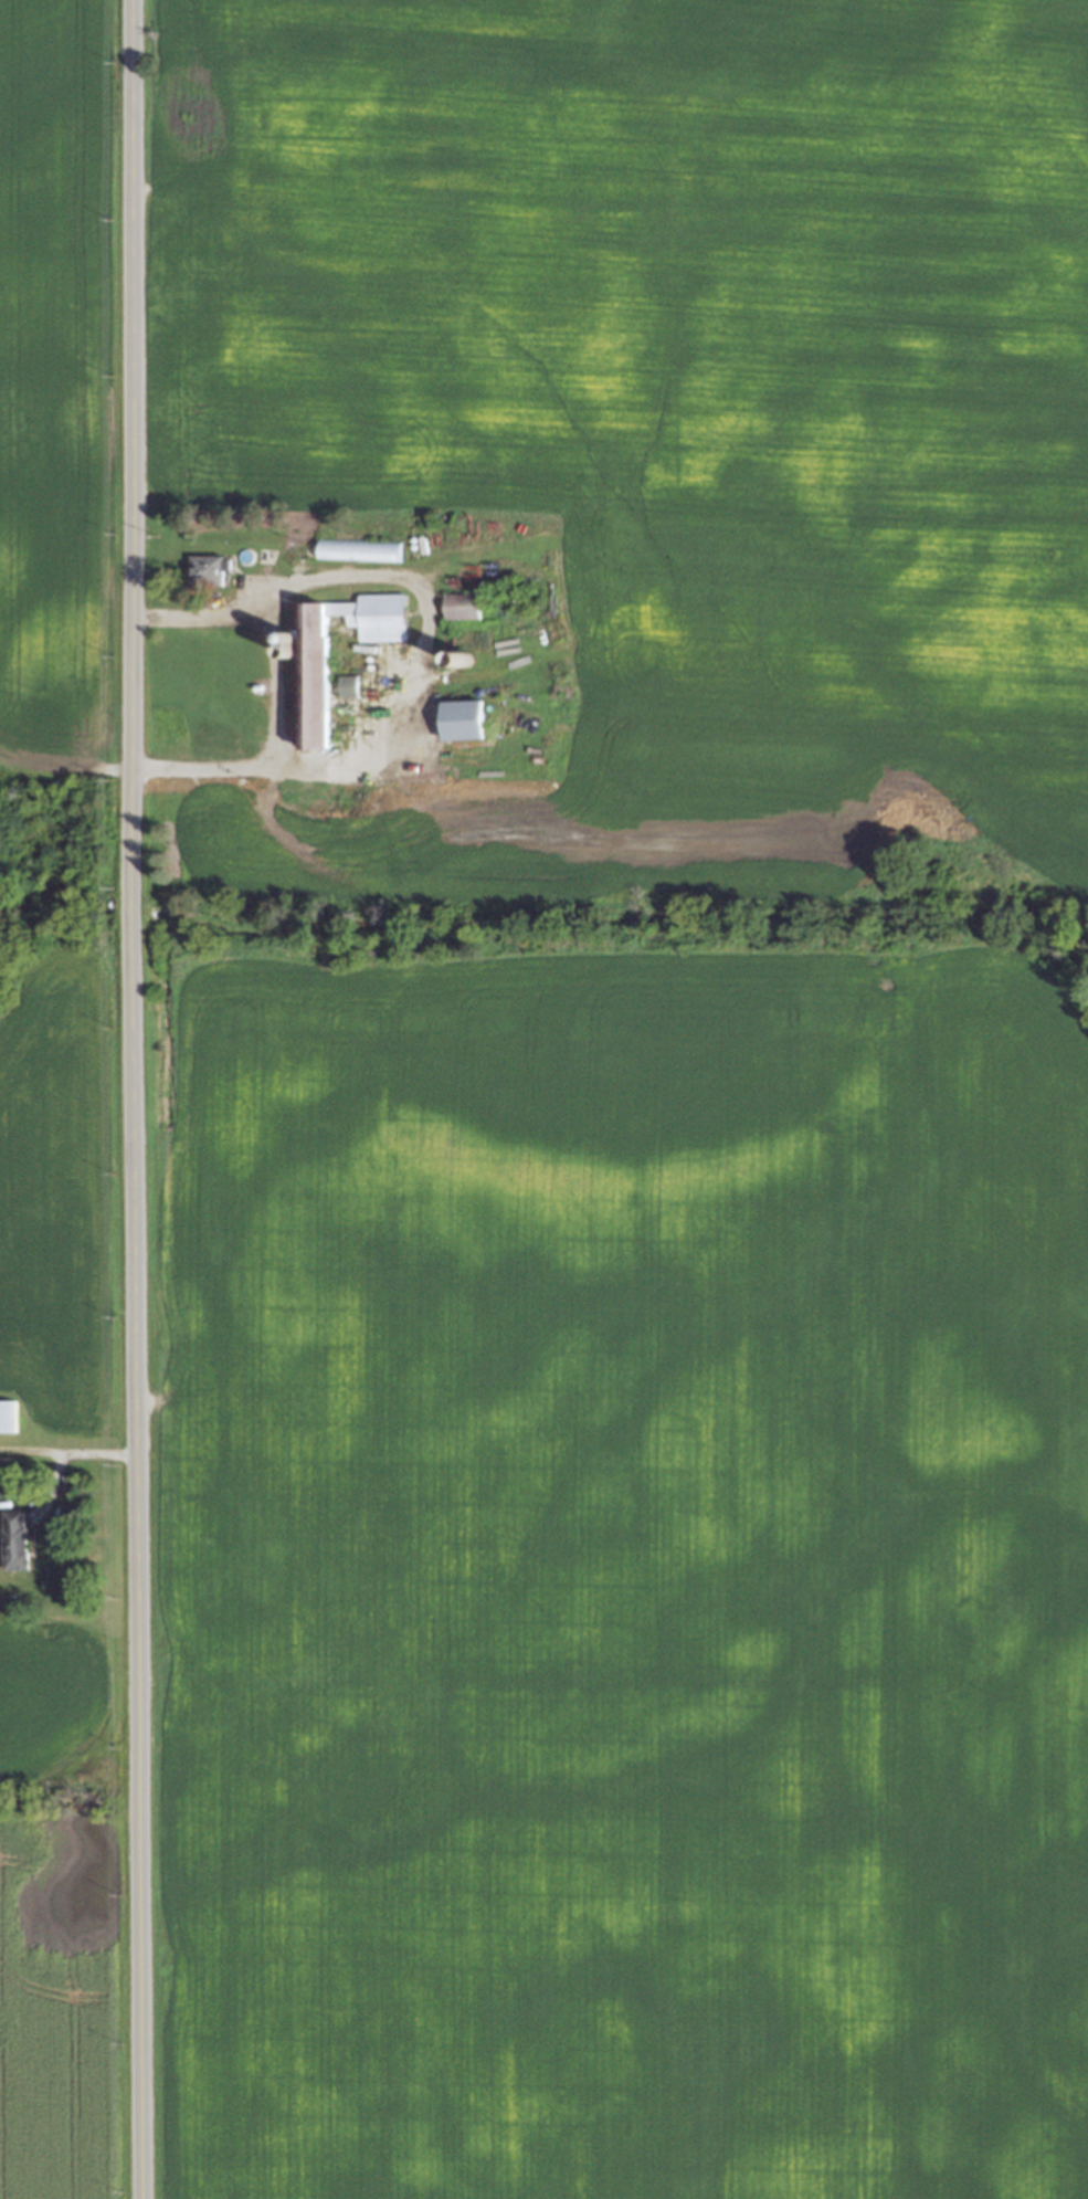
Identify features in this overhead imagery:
crop: (49, 388)
building: (358, 549)
building: (263, 555)
building: (204, 570)
building: (495, 599)
building: (526, 599)
building: (461, 606)
road: (415, 646)
building: (313, 660)
building: (457, 665)
road: (272, 684)
building: (461, 719)
road: (129, 1099)
building: (4, 1414)
road: (65, 1450)
building: (11, 1538)

